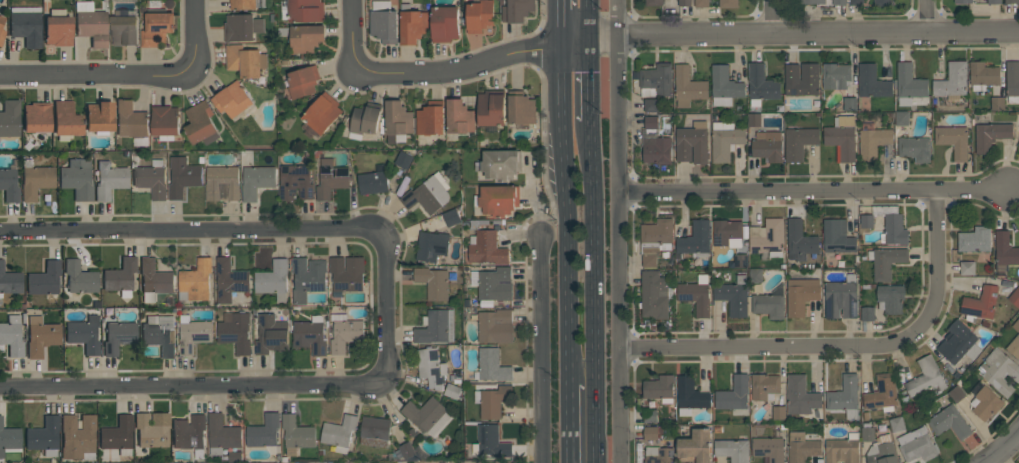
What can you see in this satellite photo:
building: (812, 1)
building: (963, 1)
building: (994, 1)
building: (1012, 1)
building: (653, 2)
building: (839, 2)
building: (856, 2)
building: (684, 3)
building: (702, 3)
building: (729, 3)
building: (883, 3)
building: (245, 4)
building: (302, 10)
building: (517, 10)
building: (479, 15)
road: (771, 16)
road: (925, 17)
road: (593, 18)
building: (1, 20)
building: (383, 22)
road: (558, 22)
building: (445, 23)
building: (91, 24)
building: (412, 24)
building: (25, 25)
building: (242, 27)
building: (157, 28)
building: (57, 29)
building: (124, 30)
road: (354, 33)
road: (820, 33)
road: (195, 34)
building: (1, 36)
building: (303, 37)
building: (245, 60)
road: (491, 60)
building: (836, 75)
building: (983, 75)
road: (97, 76)
road: (593, 78)
building: (802, 79)
building: (656, 80)
building: (951, 80)
building: (1012, 80)
building: (303, 81)
building: (872, 82)
building: (688, 85)
building: (761, 85)
building: (724, 86)
building: (910, 86)
building: (232, 99)
building: (850, 103)
building: (997, 103)
building: (650, 104)
building: (491, 107)
building: (522, 109)
building: (323, 113)
building: (99, 117)
building: (459, 117)
building: (36, 118)
building: (366, 118)
building: (430, 118)
building: (902, 118)
building: (10, 119)
building: (754, 119)
building: (66, 121)
building: (397, 121)
building: (131, 122)
building: (165, 122)
building: (651, 122)
building: (201, 123)
building: (990, 136)
building: (841, 137)
building: (725, 140)
building: (953, 140)
building: (873, 141)
building: (693, 143)
building: (799, 143)
building: (767, 145)
building: (655, 147)
building: (915, 148)
building: (404, 160)
building: (500, 164)
building: (183, 176)
building: (331, 178)
building: (77, 179)
building: (151, 179)
building: (256, 179)
building: (109, 180)
building: (373, 180)
building: (35, 181)
building: (296, 182)
building: (222, 183)
building: (9, 186)
road: (813, 189)
building: (428, 194)
building: (497, 200)
road: (566, 213)
building: (451, 217)
building: (867, 221)
building: (894, 229)
road: (620, 231)
building: (727, 233)
building: (656, 236)
building: (837, 236)
building: (767, 238)
building: (975, 239)
building: (695, 240)
building: (799, 241)
building: (432, 246)
building: (487, 247)
building: (1004, 252)
building: (649, 260)
building: (741, 260)
building: (886, 261)
building: (967, 268)
building: (347, 273)
building: (755, 275)
building: (120, 277)
building: (307, 277)
building: (80, 278)
building: (44, 279)
building: (153, 280)
building: (196, 280)
building: (273, 280)
building: (9, 282)
building: (231, 282)
building: (433, 283)
building: (495, 283)
road: (593, 291)
building: (654, 294)
building: (696, 294)
building: (733, 295)
building: (801, 295)
building: (1014, 296)
building: (841, 298)
building: (890, 298)
building: (981, 302)
building: (770, 303)
road: (389, 305)
building: (868, 314)
building: (1016, 325)
building: (495, 326)
building: (435, 327)
building: (235, 331)
building: (344, 332)
building: (83, 334)
building: (160, 334)
building: (193, 334)
building: (271, 334)
building: (310, 335)
building: (11, 336)
building: (41, 336)
building: (118, 337)
building: (958, 342)
road: (845, 345)
building: (1014, 346)
road: (540, 350)
building: (492, 365)
building: (431, 367)
building: (1001, 371)
building: (926, 378)
building: (764, 386)
building: (660, 388)
building: (452, 390)
building: (882, 393)
building: (956, 394)
building: (689, 395)
building: (735, 395)
building: (800, 395)
building: (845, 396)
building: (492, 400)
building: (985, 401)
building: (778, 412)
building: (428, 415)
building: (650, 415)
building: (950, 422)
road: (567, 423)
building: (897, 424)
building: (152, 430)
building: (263, 431)
building: (375, 431)
building: (340, 432)
building: (650, 432)
building: (189, 433)
building: (222, 434)
building: (296, 434)
building: (867, 434)
building: (117, 436)
building: (44, 437)
building: (77, 438)
building: (9, 440)
building: (491, 442)
building: (917, 444)
building: (695, 447)
building: (802, 447)
building: (769, 448)
building: (842, 449)
building: (732, 450)
road: (1003, 450)
building: (882, 451)
building: (408, 452)
building: (659, 454)

